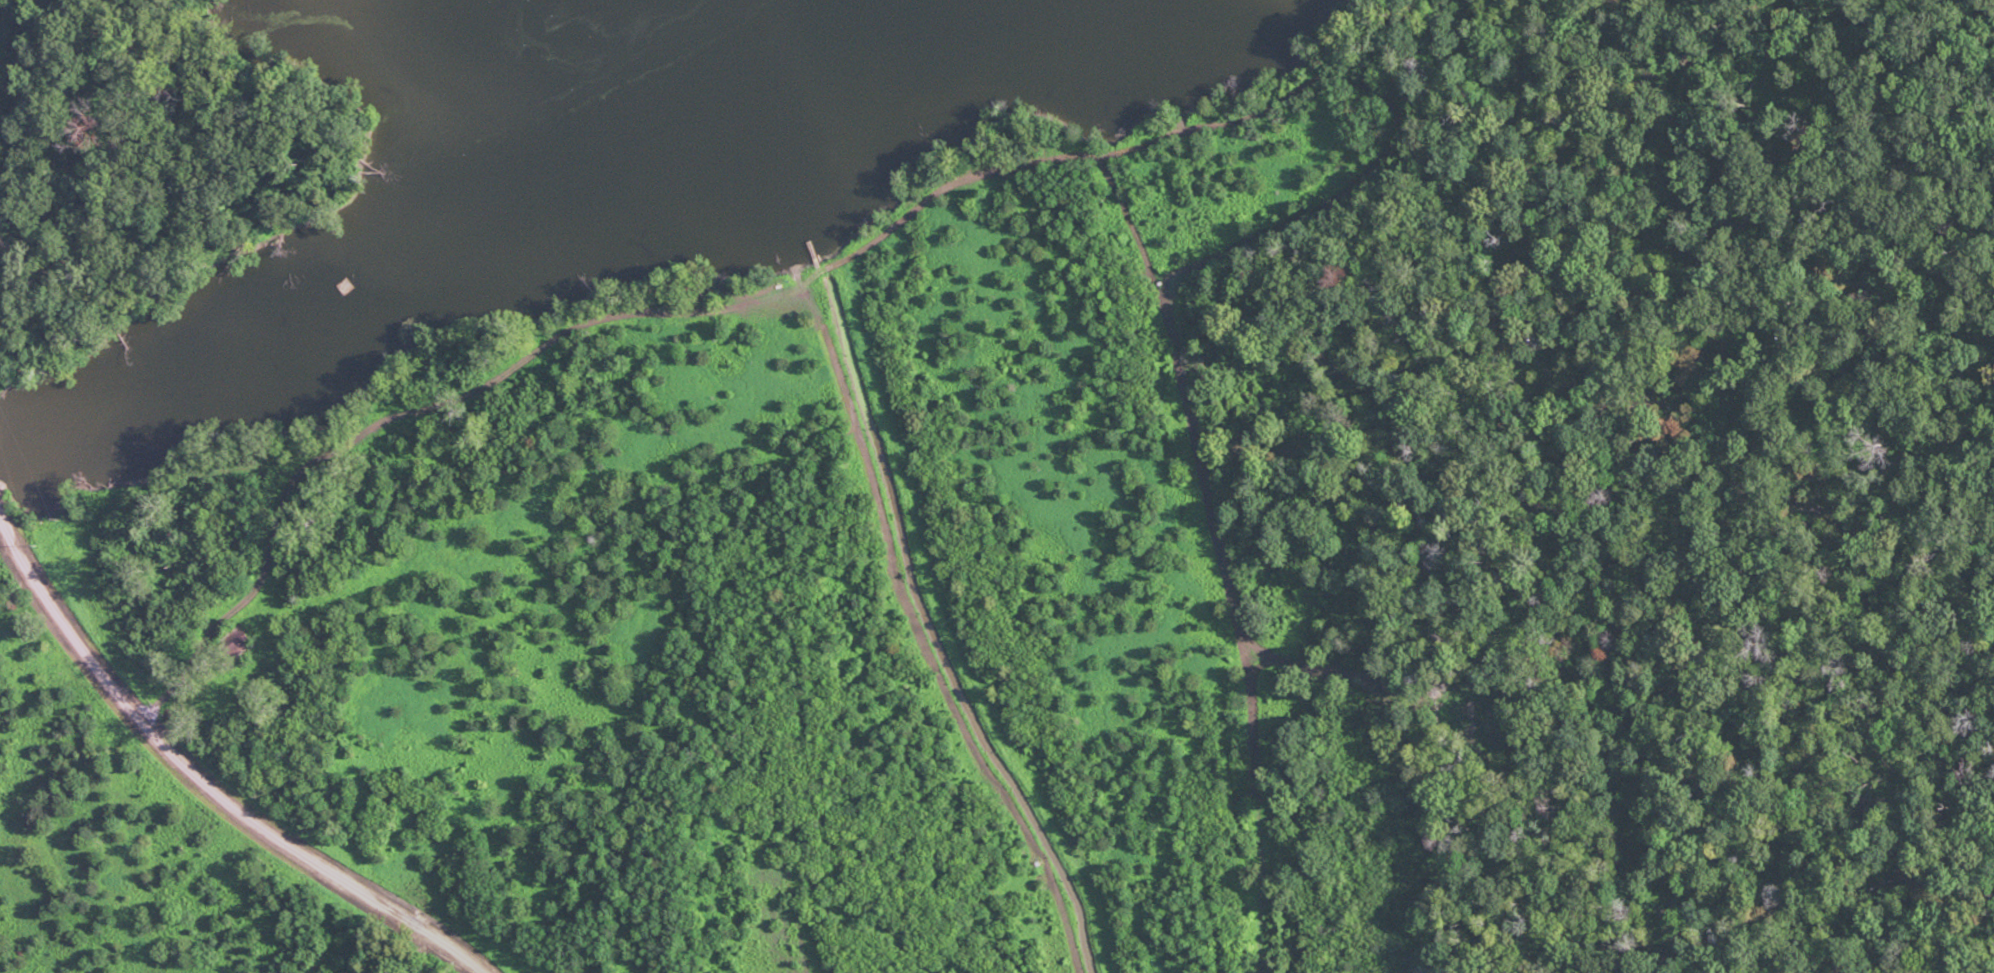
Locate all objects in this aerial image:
road: (652, 313)
road: (452, 558)
road: (200, 782)

